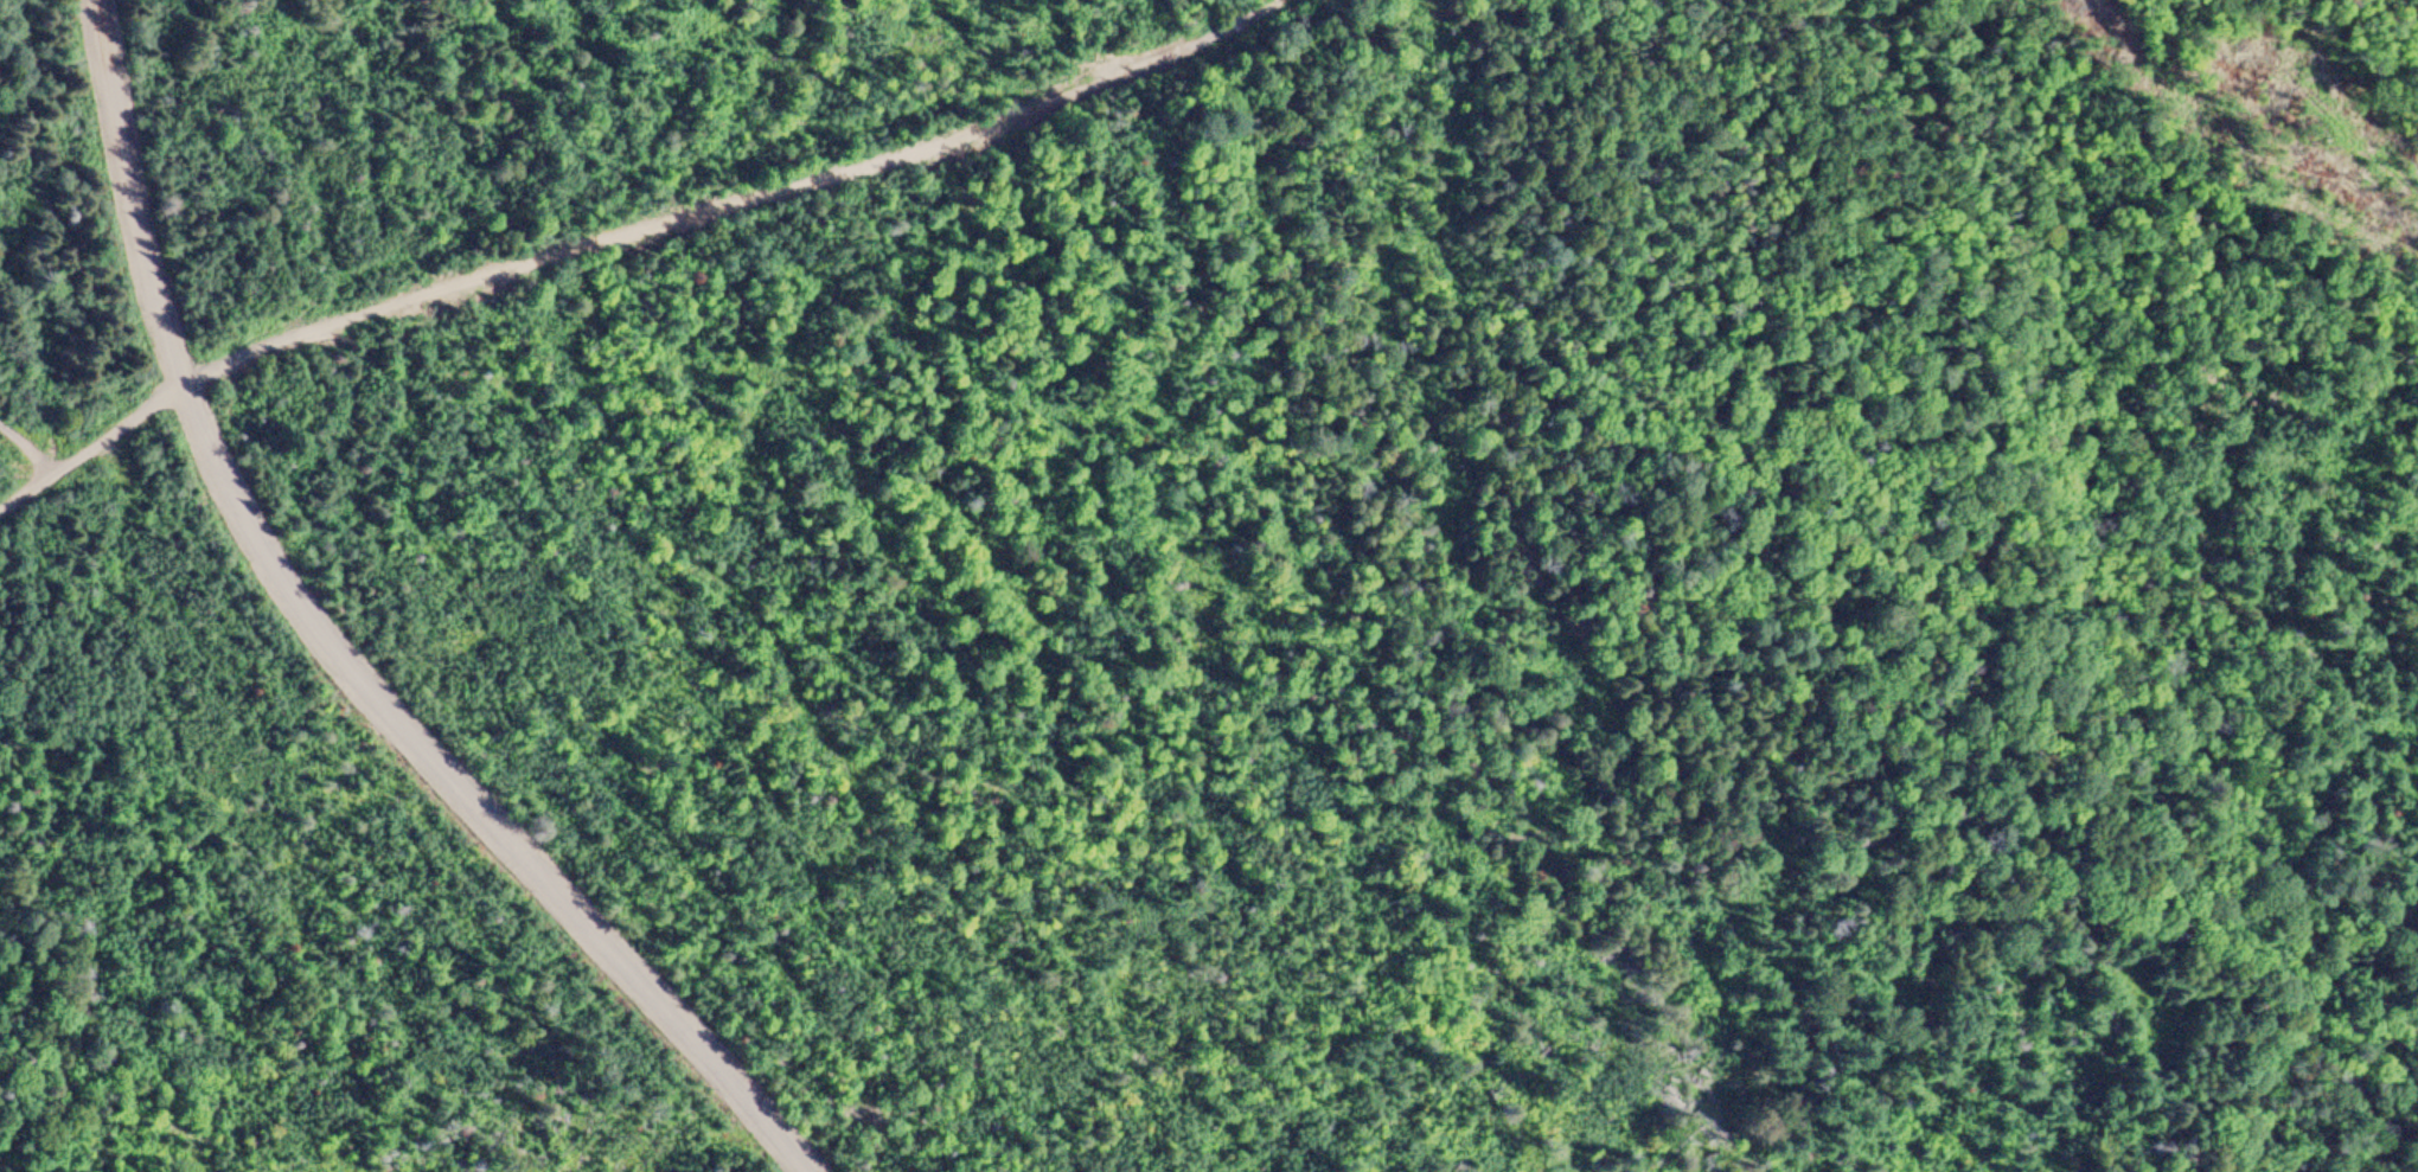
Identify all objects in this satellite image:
road: (628, 235)
road: (156, 300)
road: (19, 457)
road: (19, 493)
road: (537, 878)

